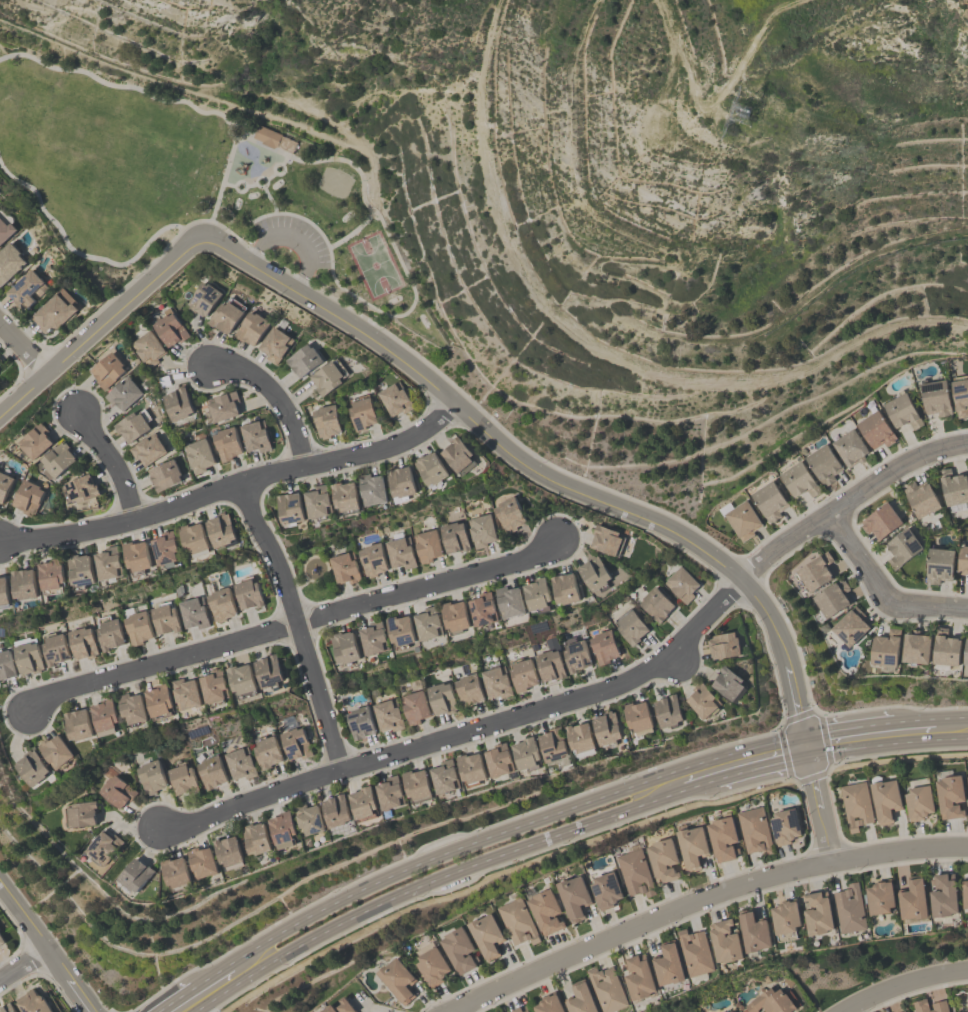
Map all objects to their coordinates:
road: (126, 86)
power tower: (746, 99)
road: (720, 105)
road: (243, 123)
building: (268, 136)
road: (274, 166)
road: (259, 177)
road: (240, 181)
park: (335, 182)
road: (263, 187)
park: (204, 189)
road: (271, 200)
building: (5, 230)
road: (353, 232)
parking lot: (295, 238)
road: (294, 240)
road: (132, 260)
building: (8, 261)
park: (375, 265)
road: (406, 275)
building: (25, 288)
building: (202, 298)
building: (52, 310)
building: (225, 314)
road: (101, 325)
building: (169, 327)
building: (250, 327)
building: (274, 344)
road: (599, 344)
building: (147, 347)
road: (23, 348)
building: (302, 358)
building: (0, 365)
building: (106, 369)
building: (327, 375)
building: (122, 392)
building: (959, 394)
building: (934, 396)
road: (277, 397)
building: (395, 397)
building: (178, 402)
building: (223, 405)
building: (362, 411)
building: (902, 411)
building: (326, 420)
building: (132, 424)
building: (875, 429)
building: (255, 435)
building: (35, 440)
building: (226, 443)
building: (850, 448)
building: (147, 449)
building: (198, 454)
building: (458, 455)
building: (58, 458)
road: (112, 462)
building: (823, 463)
building: (430, 467)
road: (533, 470)
building: (164, 474)
building: (799, 479)
building: (401, 481)
building: (4, 484)
road: (233, 486)
building: (953, 486)
building: (372, 488)
building: (80, 489)
building: (345, 495)
building: (28, 497)
building: (920, 497)
road: (849, 499)
building: (769, 500)
building: (317, 501)
building: (289, 508)
building: (508, 513)
building: (742, 519)
building: (880, 520)
building: (221, 529)
building: (481, 529)
building: (453, 536)
building: (193, 537)
building: (605, 539)
building: (427, 545)
building: (902, 546)
building: (165, 547)
building: (400, 552)
building: (136, 555)
road: (859, 558)
building: (962, 558)
building: (372, 559)
building: (108, 562)
building: (938, 564)
building: (344, 567)
building: (80, 568)
building: (815, 570)
building: (594, 572)
building: (51, 573)
building: (23, 582)
building: (681, 584)
building: (565, 587)
building: (3, 591)
building: (248, 592)
building: (536, 593)
building: (833, 597)
building: (509, 600)
building: (656, 603)
building: (221, 604)
road: (928, 606)
building: (482, 608)
building: (193, 612)
building: (454, 616)
building: (164, 617)
road: (290, 622)
building: (428, 622)
road: (297, 625)
building: (851, 625)
building: (631, 626)
building: (137, 627)
building: (400, 629)
building: (109, 632)
building: (374, 637)
building: (82, 642)
building: (723, 644)
building: (345, 646)
building: (603, 646)
building: (916, 646)
building: (945, 646)
building: (886, 647)
building: (54, 648)
building: (965, 650)
building: (575, 654)
building: (28, 657)
building: (549, 664)
building: (6, 665)
building: (269, 670)
building: (522, 674)
building: (242, 680)
building: (496, 681)
building: (729, 683)
building: (214, 686)
building: (468, 689)
building: (186, 693)
building: (440, 698)
building: (158, 700)
building: (703, 700)
building: (131, 707)
building: (414, 707)
building: (668, 710)
building: (104, 714)
building: (388, 715)
building: (637, 715)
road: (951, 719)
building: (359, 722)
road: (914, 722)
building: (77, 723)
building: (607, 728)
road: (848, 728)
road: (467, 732)
traffic signals: (804, 736)
building: (580, 738)
building: (295, 743)
building: (553, 743)
road: (886, 745)
road: (804, 747)
building: (55, 751)
building: (266, 751)
building: (526, 753)
building: (498, 759)
building: (239, 763)
building: (32, 766)
building: (470, 768)
building: (211, 771)
road: (761, 771)
building: (150, 776)
building: (444, 776)
building: (967, 777)
building: (182, 779)
building: (418, 784)
road: (701, 788)
building: (116, 791)
building: (390, 792)
building: (949, 795)
building: (885, 798)
building: (364, 802)
building: (918, 802)
building: (855, 804)
building: (337, 809)
road: (819, 810)
building: (80, 813)
building: (309, 818)
building: (784, 825)
building: (282, 826)
building: (754, 830)
road: (509, 831)
building: (256, 837)
building: (722, 838)
building: (692, 846)
building: (103, 847)
building: (228, 850)
building: (663, 859)
building: (202, 861)
building: (176, 872)
building: (635, 873)
building: (136, 874)
road: (431, 882)
building: (606, 889)
building: (965, 892)
building: (943, 894)
building: (573, 896)
building: (879, 896)
building: (913, 898)
road: (704, 900)
building: (849, 908)
building: (545, 911)
building: (818, 912)
building: (786, 919)
building: (518, 921)
building: (754, 930)
road: (36, 933)
building: (486, 935)
building: (1, 940)
building: (725, 940)
building: (459, 950)
building: (695, 951)
building: (668, 963)
road: (24, 964)
building: (433, 965)
road: (212, 975)
building: (639, 976)
building: (397, 979)
road: (900, 985)
building: (607, 989)
road: (82, 998)
building: (580, 998)
road: (176, 999)
building: (770, 1001)
building: (32, 1002)
building: (548, 1004)
building: (346, 1005)
building: (939, 1005)
building: (6, 1008)
building: (329, 1008)
building: (520, 1009)
building: (733, 1011)
building: (902, 1011)

